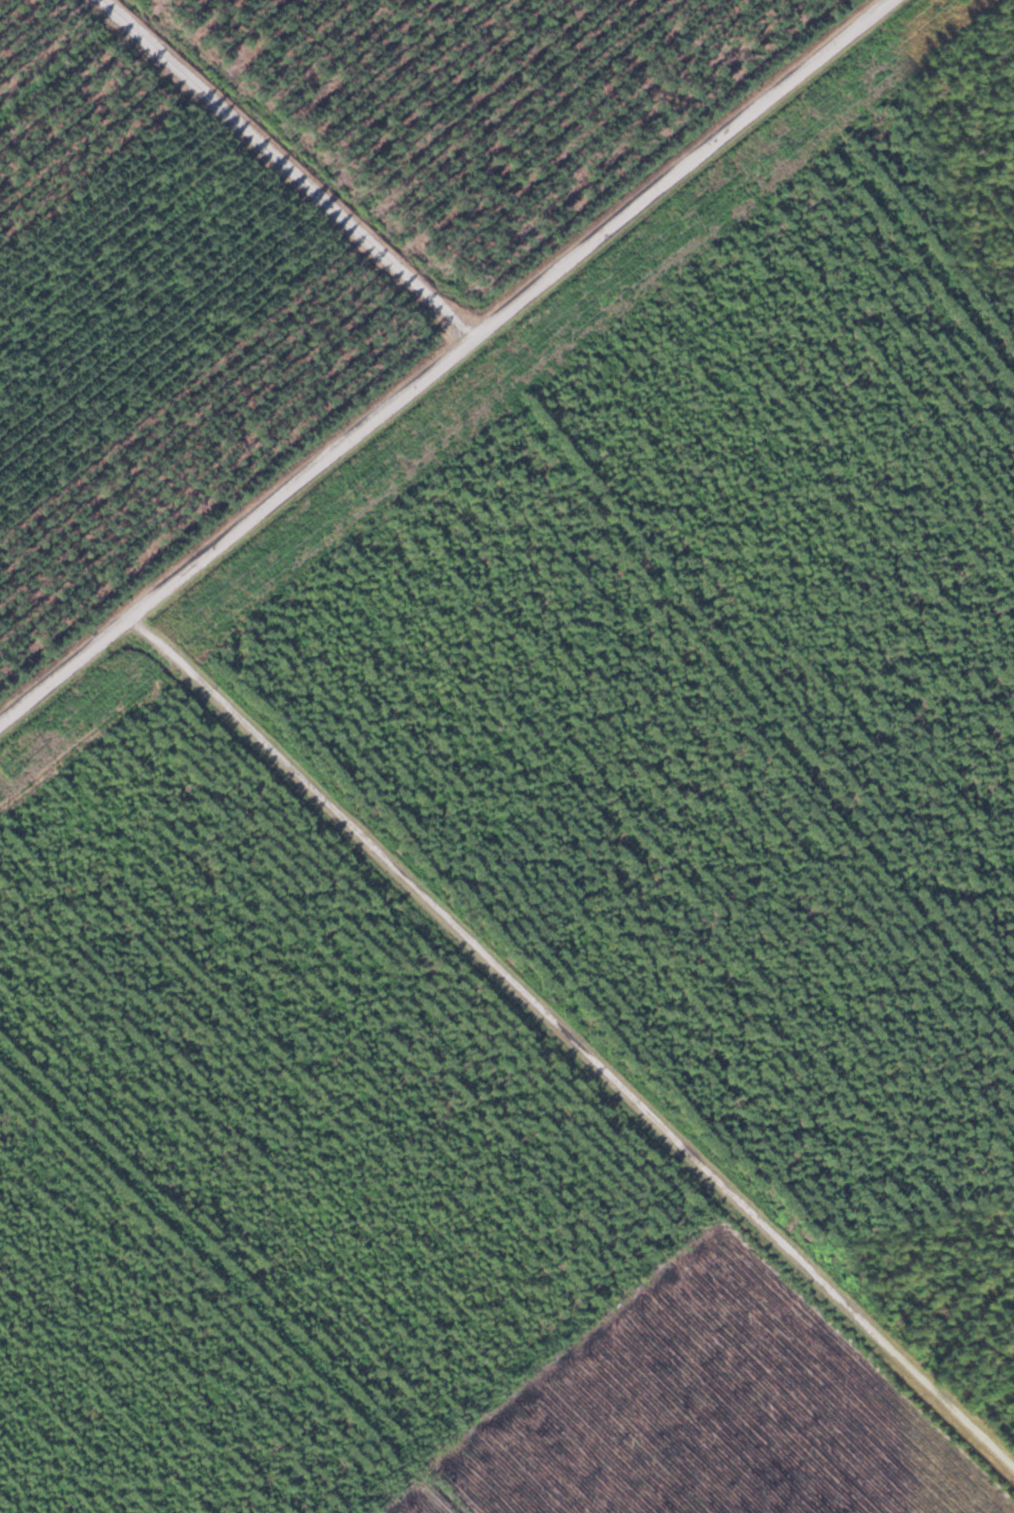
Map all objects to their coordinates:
road: (289, 168)
power tower: (680, 220)
road: (443, 361)
power tower: (345, 489)
power tower: (9, 762)
road: (570, 1048)

